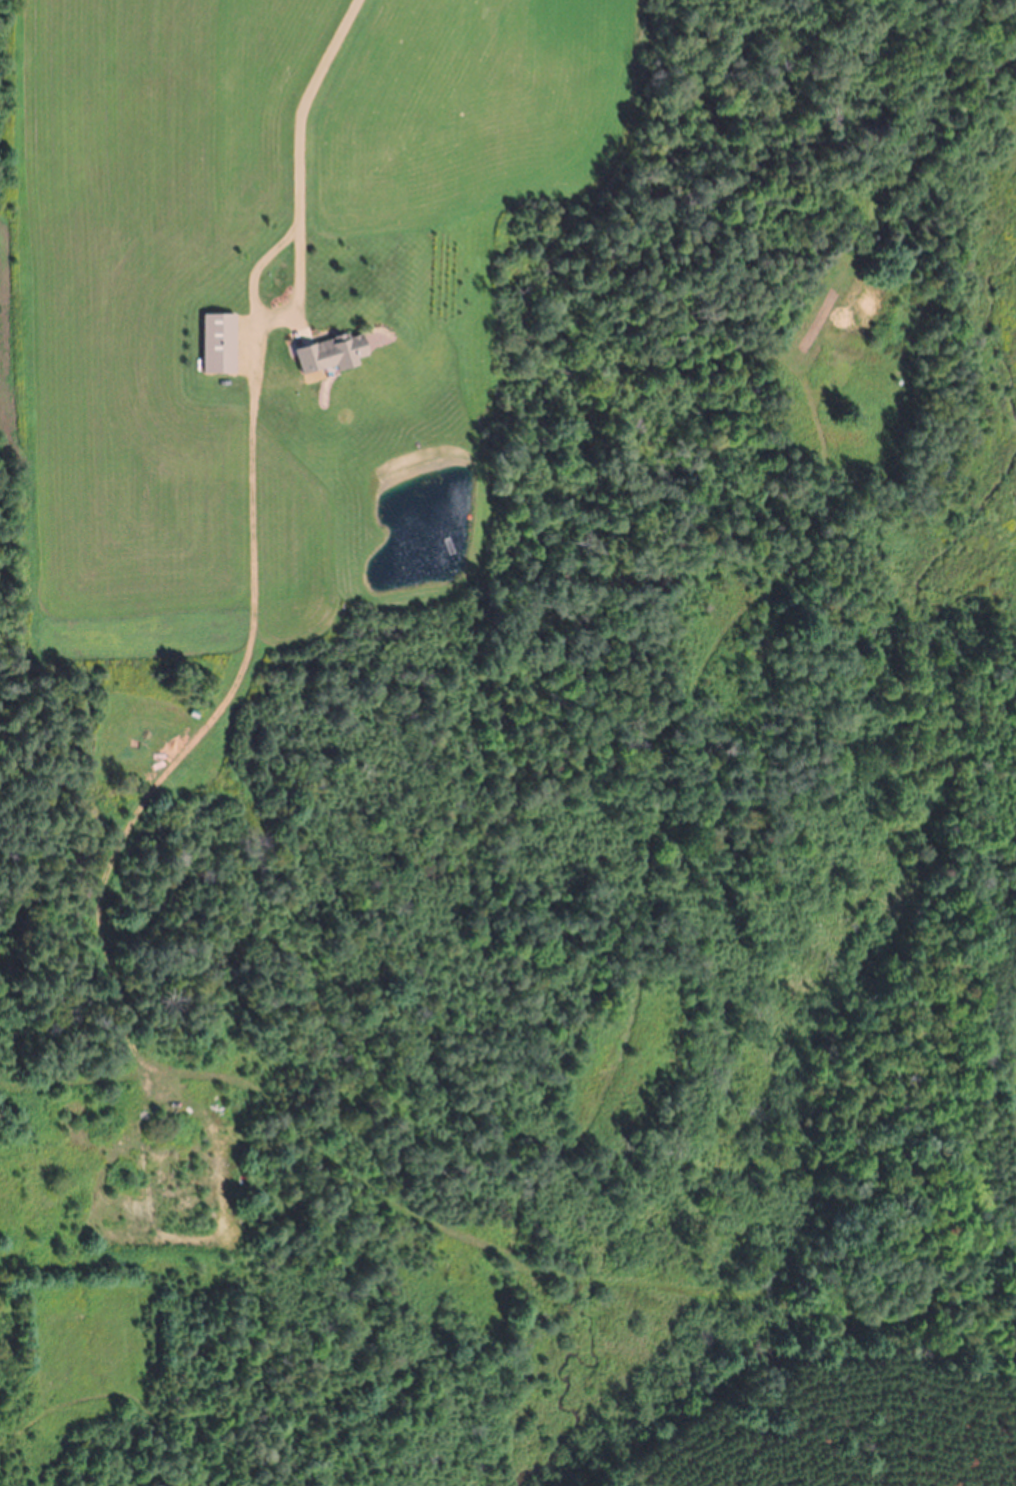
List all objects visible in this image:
building: (221, 342)
building: (337, 352)

